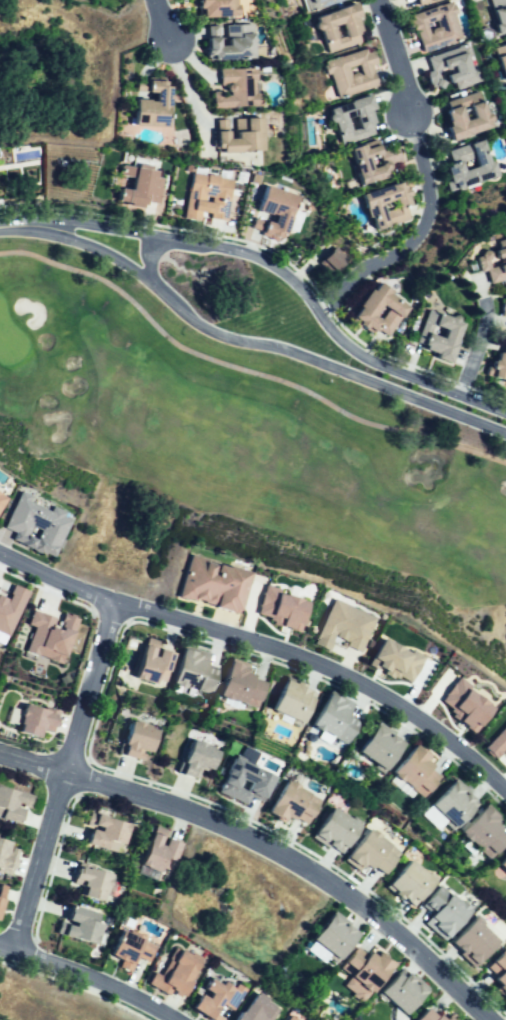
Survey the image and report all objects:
building: (310, 1)
building: (420, 1)
building: (212, 7)
building: (497, 15)
road: (161, 18)
building: (434, 26)
building: (335, 28)
building: (227, 41)
road: (396, 57)
building: (500, 59)
building: (431, 67)
building: (349, 72)
road: (184, 81)
building: (235, 87)
building: (144, 104)
building: (451, 113)
building: (350, 118)
building: (235, 134)
building: (371, 160)
building: (465, 166)
building: (134, 186)
building: (204, 197)
building: (371, 206)
building: (270, 211)
road: (19, 225)
road: (401, 242)
road: (149, 259)
building: (326, 260)
building: (503, 262)
road: (289, 278)
park: (270, 286)
building: (503, 307)
building: (391, 313)
building: (438, 335)
road: (477, 338)
road: (263, 344)
building: (503, 347)
building: (498, 367)
road: (244, 370)
building: (1, 497)
building: (32, 523)
road: (56, 579)
building: (208, 586)
building: (280, 607)
building: (10, 608)
building: (343, 626)
building: (48, 635)
building: (395, 660)
building: (148, 668)
road: (321, 672)
building: (185, 675)
building: (234, 688)
building: (285, 702)
building: (463, 704)
building: (39, 720)
building: (327, 720)
building: (135, 742)
building: (496, 742)
building: (375, 750)
building: (246, 753)
road: (31, 760)
building: (189, 760)
building: (411, 772)
road: (59, 778)
building: (240, 782)
building: (14, 804)
building: (447, 806)
building: (281, 809)
building: (105, 832)
building: (481, 835)
building: (330, 836)
building: (156, 857)
building: (7, 858)
building: (362, 858)
road: (297, 864)
building: (501, 868)
building: (86, 882)
building: (402, 886)
building: (1, 891)
building: (2, 906)
building: (444, 917)
building: (77, 929)
building: (329, 936)
building: (127, 944)
building: (471, 944)
building: (361, 971)
building: (174, 973)
building: (501, 975)
road: (89, 977)
building: (398, 993)
building: (213, 998)
building: (255, 1009)
building: (431, 1015)
building: (287, 1019)

